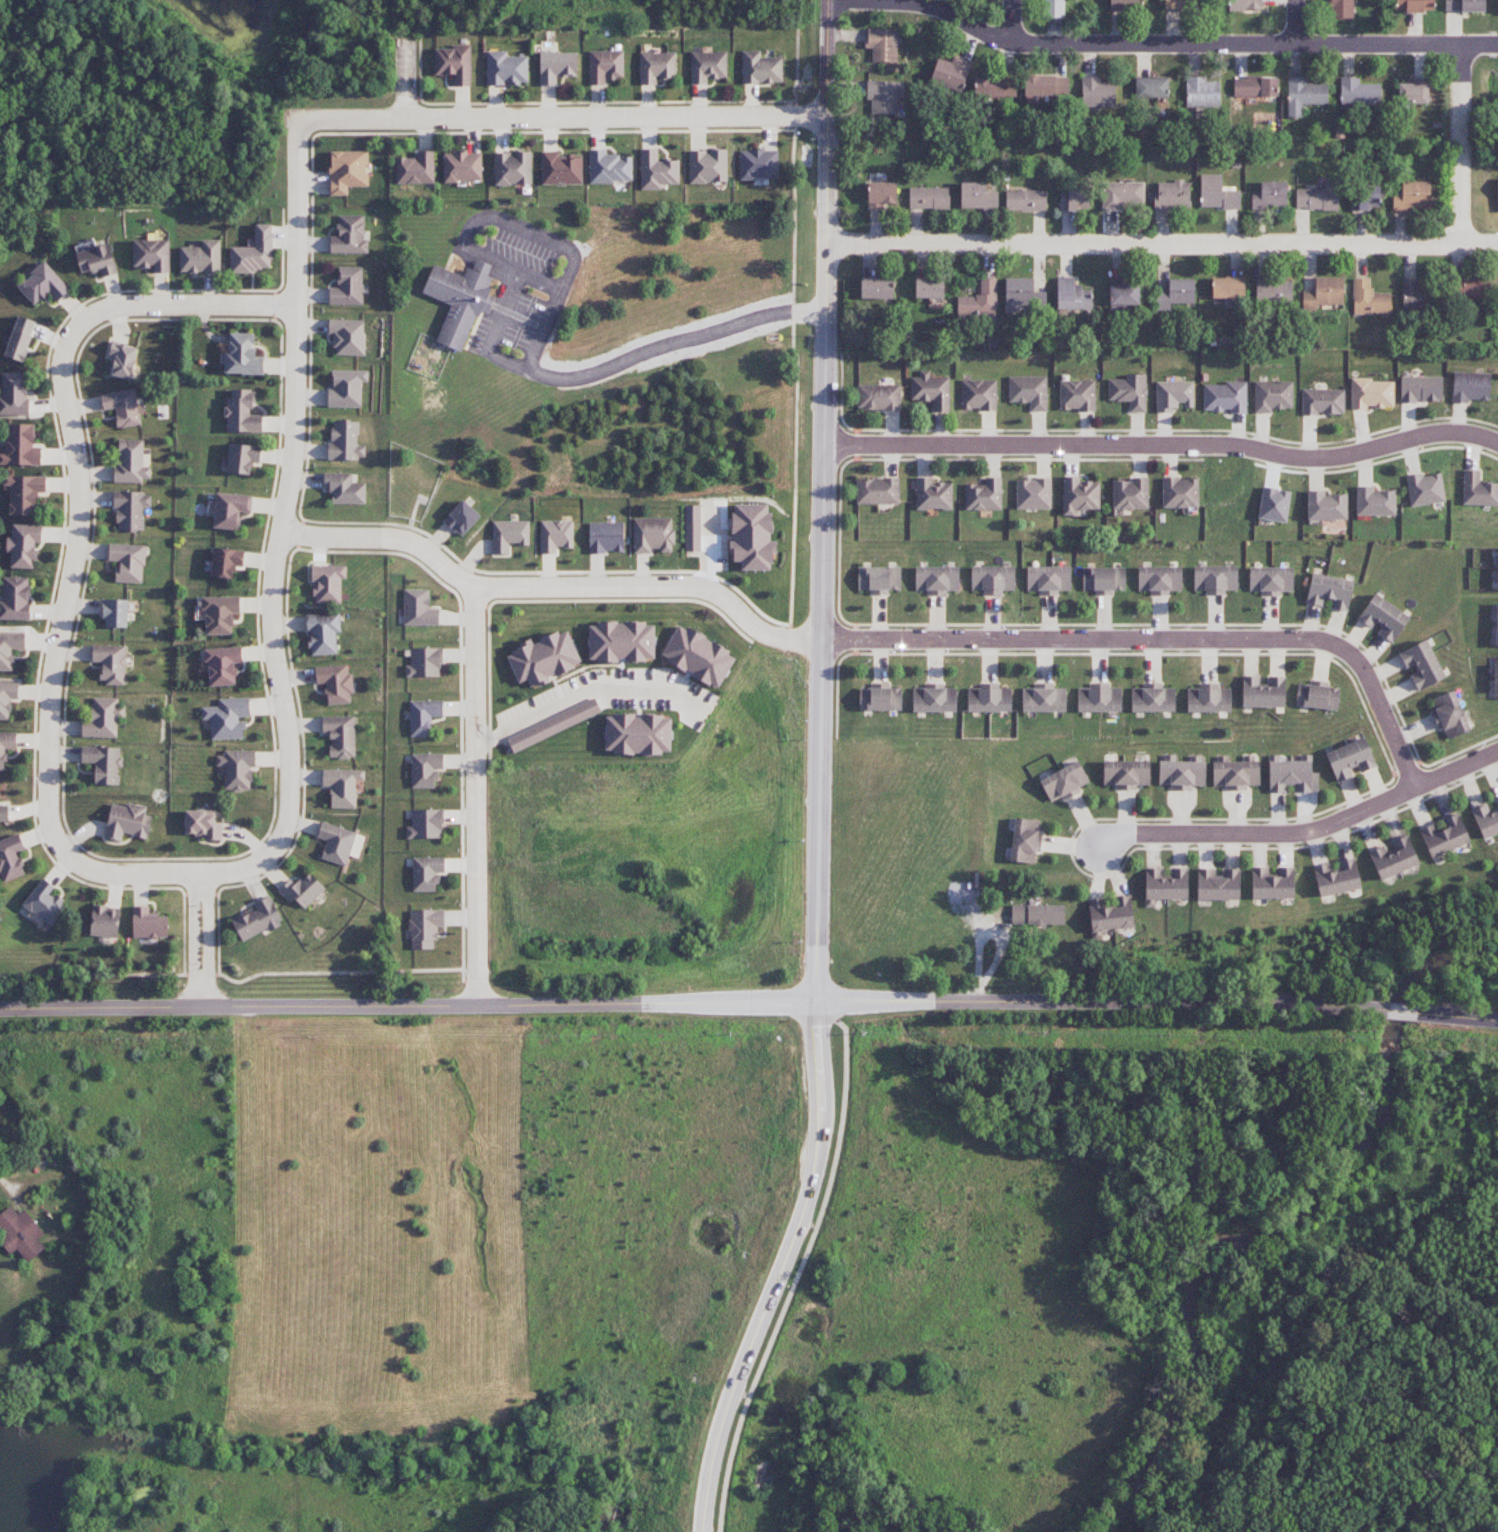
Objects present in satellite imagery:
building: (1125, 4)
building: (1179, 4)
building: (1244, 5)
building: (1414, 5)
building: (1465, 5)
building: (1497, 5)
building: (1054, 8)
building: (1341, 9)
road: (1014, 21)
road: (1295, 23)
building: (882, 44)
road: (1159, 45)
building: (454, 63)
building: (556, 66)
building: (605, 66)
building: (657, 66)
building: (707, 66)
building: (506, 68)
building: (761, 68)
building: (950, 73)
building: (1046, 85)
building: (1255, 86)
building: (1151, 87)
building: (995, 88)
building: (1097, 92)
building: (1202, 92)
building: (1359, 92)
building: (1413, 93)
building: (1304, 95)
building: (883, 96)
road: (561, 119)
road: (1460, 145)
building: (758, 164)
building: (707, 166)
building: (462, 167)
building: (609, 167)
building: (512, 168)
building: (561, 168)
building: (416, 169)
building: (657, 170)
building: (347, 171)
building: (1217, 193)
building: (881, 194)
building: (1121, 194)
building: (1172, 195)
building: (1269, 195)
building: (1412, 196)
building: (1497, 196)
building: (977, 197)
building: (1318, 197)
building: (1365, 197)
building: (929, 198)
building: (1074, 199)
building: (1025, 200)
road: (499, 220)
building: (349, 236)
road: (1161, 244)
building: (85, 245)
building: (254, 252)
building: (151, 254)
building: (201, 257)
building: (97, 260)
road: (542, 278)
building: (43, 285)
building: (347, 287)
building: (1473, 287)
building: (876, 288)
building: (929, 288)
building: (1228, 288)
building: (1273, 292)
building: (1324, 293)
building: (1022, 294)
building: (1122, 294)
building: (1175, 294)
building: (1419, 294)
building: (1072, 295)
building: (462, 299)
building: (1369, 299)
building: (979, 302)
building: (347, 336)
building: (20, 339)
road: (652, 349)
building: (241, 355)
building: (122, 359)
building: (1470, 386)
building: (346, 388)
building: (1421, 389)
building: (931, 390)
building: (1028, 391)
building: (1129, 391)
building: (1371, 393)
building: (14, 394)
building: (978, 395)
building: (1077, 395)
building: (1174, 395)
building: (1273, 396)
building: (878, 397)
building: (1224, 397)
building: (1323, 401)
building: (122, 407)
building: (242, 413)
building: (345, 442)
building: (20, 446)
road: (1165, 447)
building: (242, 458)
building: (131, 462)
building: (343, 488)
building: (1425, 489)
building: (1478, 490)
building: (877, 491)
building: (1180, 492)
building: (24, 493)
building: (1033, 493)
building: (1130, 493)
building: (932, 494)
building: (984, 494)
building: (1079, 495)
road: (824, 500)
building: (1375, 502)
building: (1274, 505)
building: (1326, 506)
building: (230, 509)
building: (130, 510)
building: (461, 518)
building: (692, 528)
road: (280, 532)
building: (509, 535)
building: (555, 535)
building: (652, 535)
building: (606, 537)
building: (752, 537)
building: (23, 545)
road: (77, 549)
building: (128, 562)
building: (225, 562)
building: (878, 579)
building: (936, 579)
building: (992, 579)
building: (1048, 579)
building: (1103, 579)
building: (1215, 579)
building: (1159, 580)
building: (1270, 580)
building: (1497, 581)
building: (327, 583)
road: (552, 585)
building: (1330, 591)
building: (15, 598)
building: (418, 608)
building: (115, 613)
building: (219, 614)
building: (1383, 617)
building: (1497, 626)
building: (322, 633)
road: (1161, 639)
building: (621, 641)
building: (10, 648)
building: (698, 656)
building: (543, 658)
building: (424, 662)
building: (110, 663)
building: (1422, 664)
building: (222, 665)
building: (335, 683)
road: (586, 691)
building: (1263, 692)
building: (1317, 695)
building: (7, 697)
building: (880, 698)
building: (934, 698)
building: (989, 698)
building: (1043, 698)
building: (1099, 698)
building: (1153, 698)
building: (1208, 698)
building: (1449, 715)
building: (423, 716)
building: (103, 718)
building: (227, 718)
building: (553, 725)
building: (638, 734)
building: (340, 736)
building: (6, 746)
building: (1351, 760)
building: (103, 763)
road: (1456, 768)
building: (237, 769)
building: (425, 769)
building: (1236, 772)
building: (1182, 773)
building: (1126, 774)
building: (1291, 775)
building: (1064, 782)
building: (342, 786)
road: (475, 795)
building: (3, 812)
building: (1486, 820)
building: (127, 821)
building: (425, 824)
building: (202, 825)
road: (1258, 833)
building: (1445, 836)
building: (1025, 840)
building: (339, 843)
building: (10, 858)
building: (1394, 858)
building: (426, 873)
building: (1337, 878)
building: (1272, 883)
building: (1218, 884)
building: (1165, 885)
building: (302, 890)
building: (46, 903)
building: (1037, 914)
building: (1110, 917)
building: (257, 919)
building: (105, 921)
building: (148, 923)
building: (425, 927)
road: (194, 940)
road: (209, 941)
park: (1304, 952)
road: (689, 1002)
road: (1396, 1011)
road: (1456, 1016)
road: (10, 1186)
building: (20, 1234)
road: (781, 1269)

